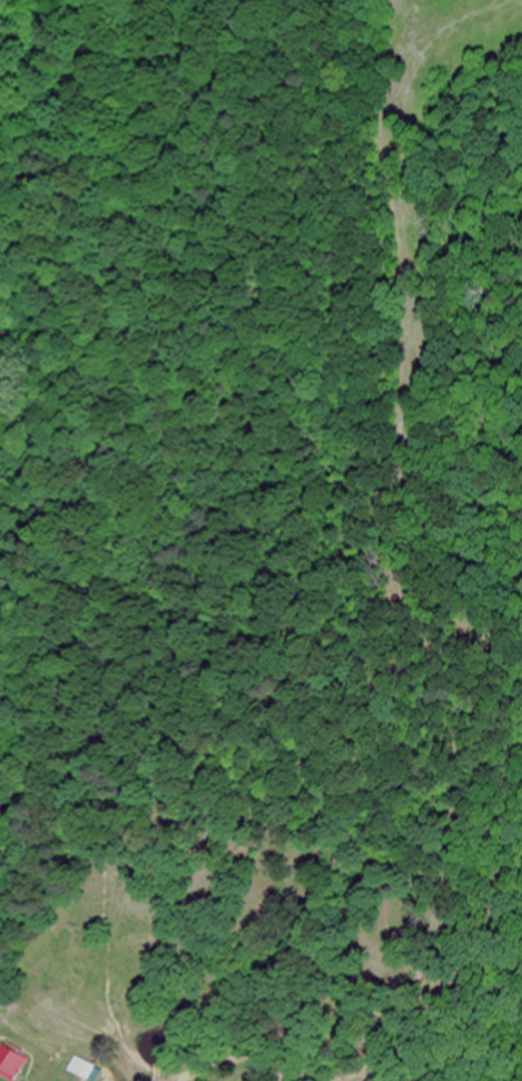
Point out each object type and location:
building: (10, 1064)

